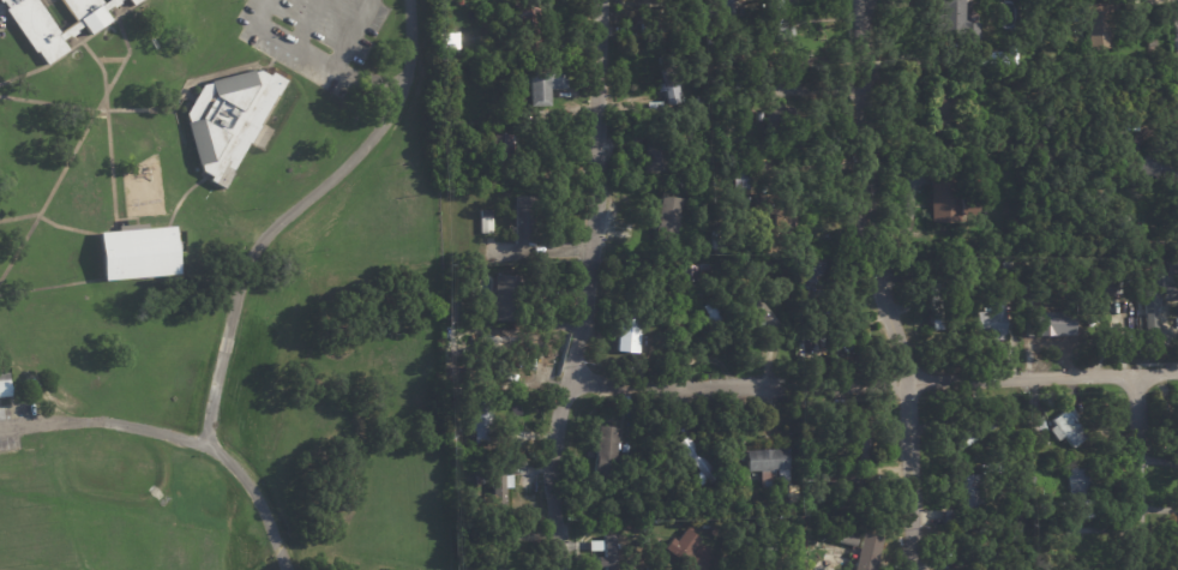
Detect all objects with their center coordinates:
building: (0, 0)
building: (134, 1)
building: (459, 2)
building: (684, 4)
building: (745, 12)
building: (720, 13)
building: (954, 20)
building: (773, 22)
building: (1100, 22)
building: (660, 26)
building: (38, 30)
building: (533, 35)
parking lot: (313, 36)
building: (450, 41)
building: (1015, 52)
building: (990, 56)
building: (981, 76)
building: (666, 80)
building: (542, 83)
building: (698, 100)
building: (698, 107)
building: (938, 109)
building: (759, 116)
building: (227, 121)
building: (779, 126)
building: (1118, 130)
building: (677, 136)
building: (1008, 142)
building: (500, 154)
building: (467, 157)
building: (654, 158)
building: (1149, 164)
building: (1105, 179)
building: (739, 180)
building: (695, 188)
building: (950, 198)
building: (776, 208)
road: (293, 214)
building: (522, 218)
building: (666, 218)
building: (486, 222)
building: (1014, 222)
building: (717, 240)
building: (1152, 246)
building: (134, 251)
building: (1176, 266)
building: (1006, 269)
building: (692, 272)
building: (776, 276)
road: (589, 286)
building: (809, 286)
building: (1099, 286)
road: (877, 287)
building: (503, 300)
building: (933, 305)
building: (758, 310)
building: (453, 311)
building: (1149, 312)
building: (659, 317)
building: (713, 319)
building: (992, 320)
building: (540, 325)
building: (1042, 325)
building: (677, 326)
building: (629, 329)
building: (492, 342)
building: (492, 379)
road: (875, 382)
building: (5, 386)
building: (479, 420)
building: (692, 422)
building: (1039, 422)
parking lot: (12, 424)
building: (1068, 428)
building: (859, 431)
building: (972, 432)
building: (450, 439)
road: (175, 440)
building: (603, 454)
building: (696, 461)
building: (840, 462)
building: (768, 466)
building: (999, 467)
road: (1136, 474)
building: (482, 480)
building: (1029, 480)
building: (499, 488)
building: (637, 490)
building: (969, 492)
building: (1003, 493)
building: (792, 494)
building: (1076, 494)
building: (841, 496)
building: (769, 505)
building: (949, 517)
building: (705, 526)
building: (643, 528)
building: (1018, 530)
building: (1017, 538)
building: (845, 540)
building: (642, 541)
building: (805, 545)
building: (595, 546)
building: (1066, 546)
building: (689, 551)
building: (835, 553)
building: (609, 554)
building: (984, 554)

